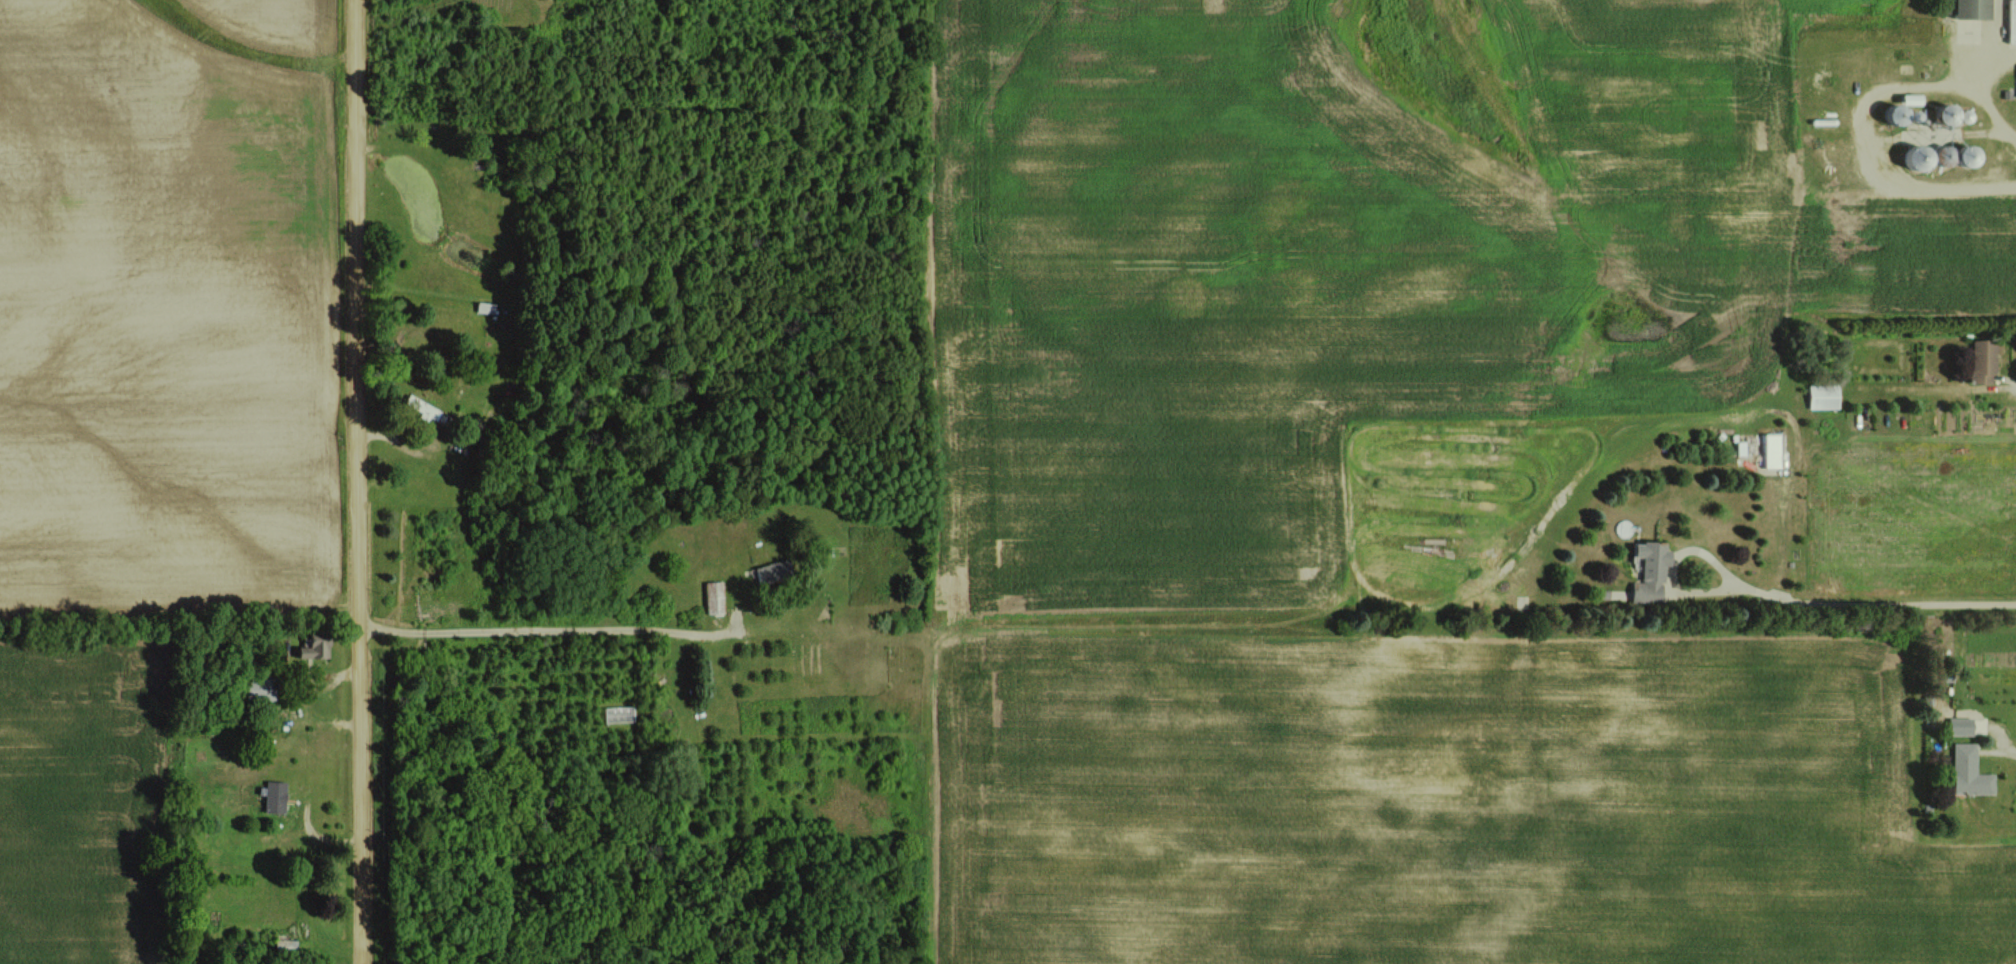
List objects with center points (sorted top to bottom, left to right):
building: (1972, 9)
building: (2012, 21)
road: (1993, 33)
road: (1981, 92)
building: (1912, 98)
building: (1900, 114)
road: (1858, 153)
building: (1921, 156)
building: (1983, 361)
road: (2015, 383)
building: (1824, 396)
building: (1773, 450)
road: (365, 481)
road: (1669, 557)
building: (770, 571)
building: (1652, 572)
building: (714, 596)
road: (1868, 599)
road: (553, 628)
building: (261, 687)
building: (1963, 725)
road: (2004, 744)
building: (1970, 771)
building: (275, 796)

